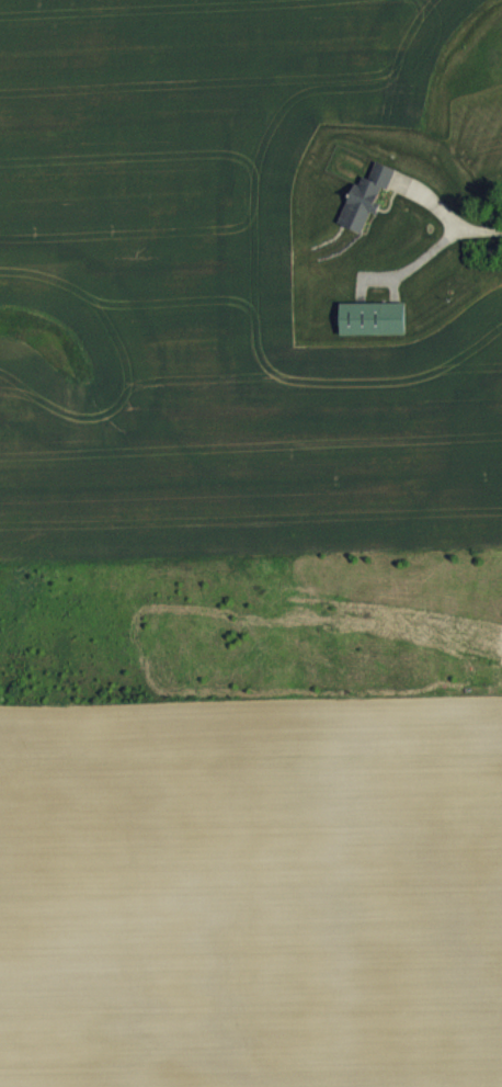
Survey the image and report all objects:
building: (365, 211)
road: (482, 228)

